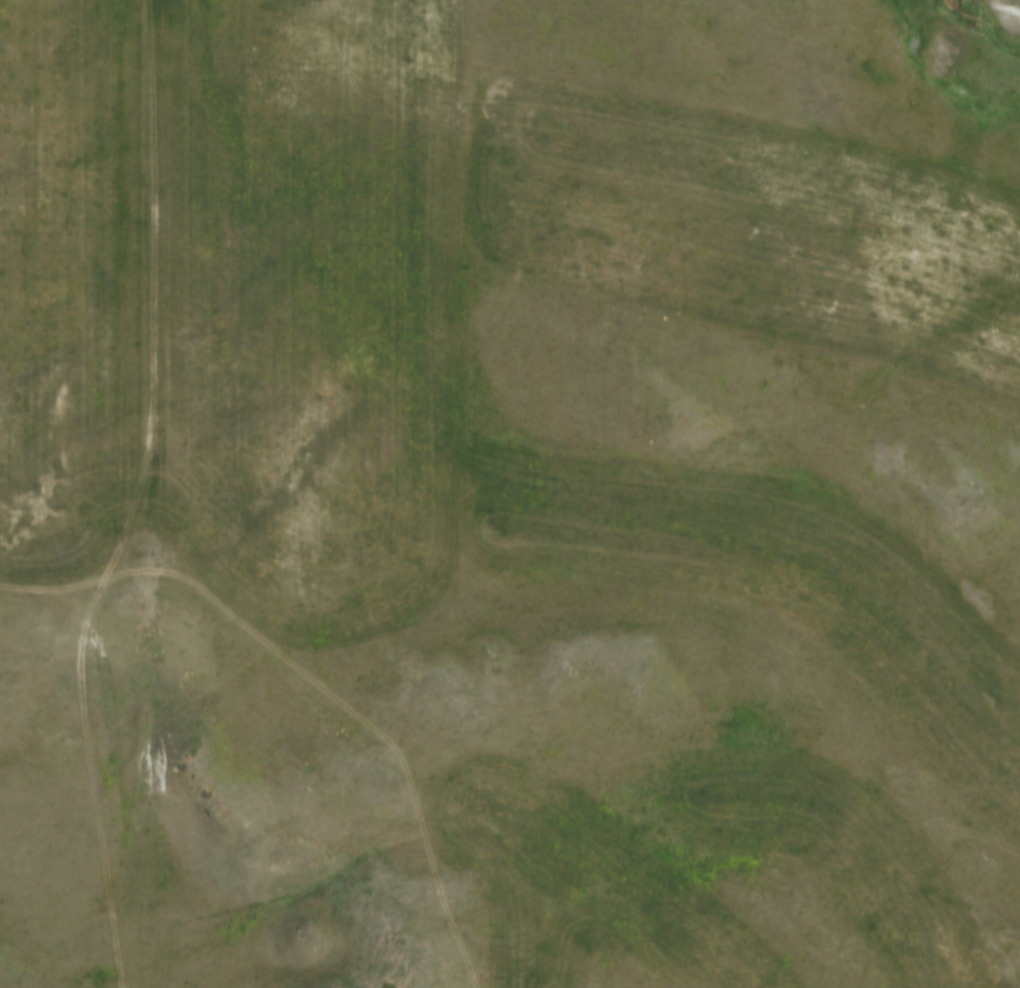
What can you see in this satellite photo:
road: (138, 499)
road: (241, 623)

